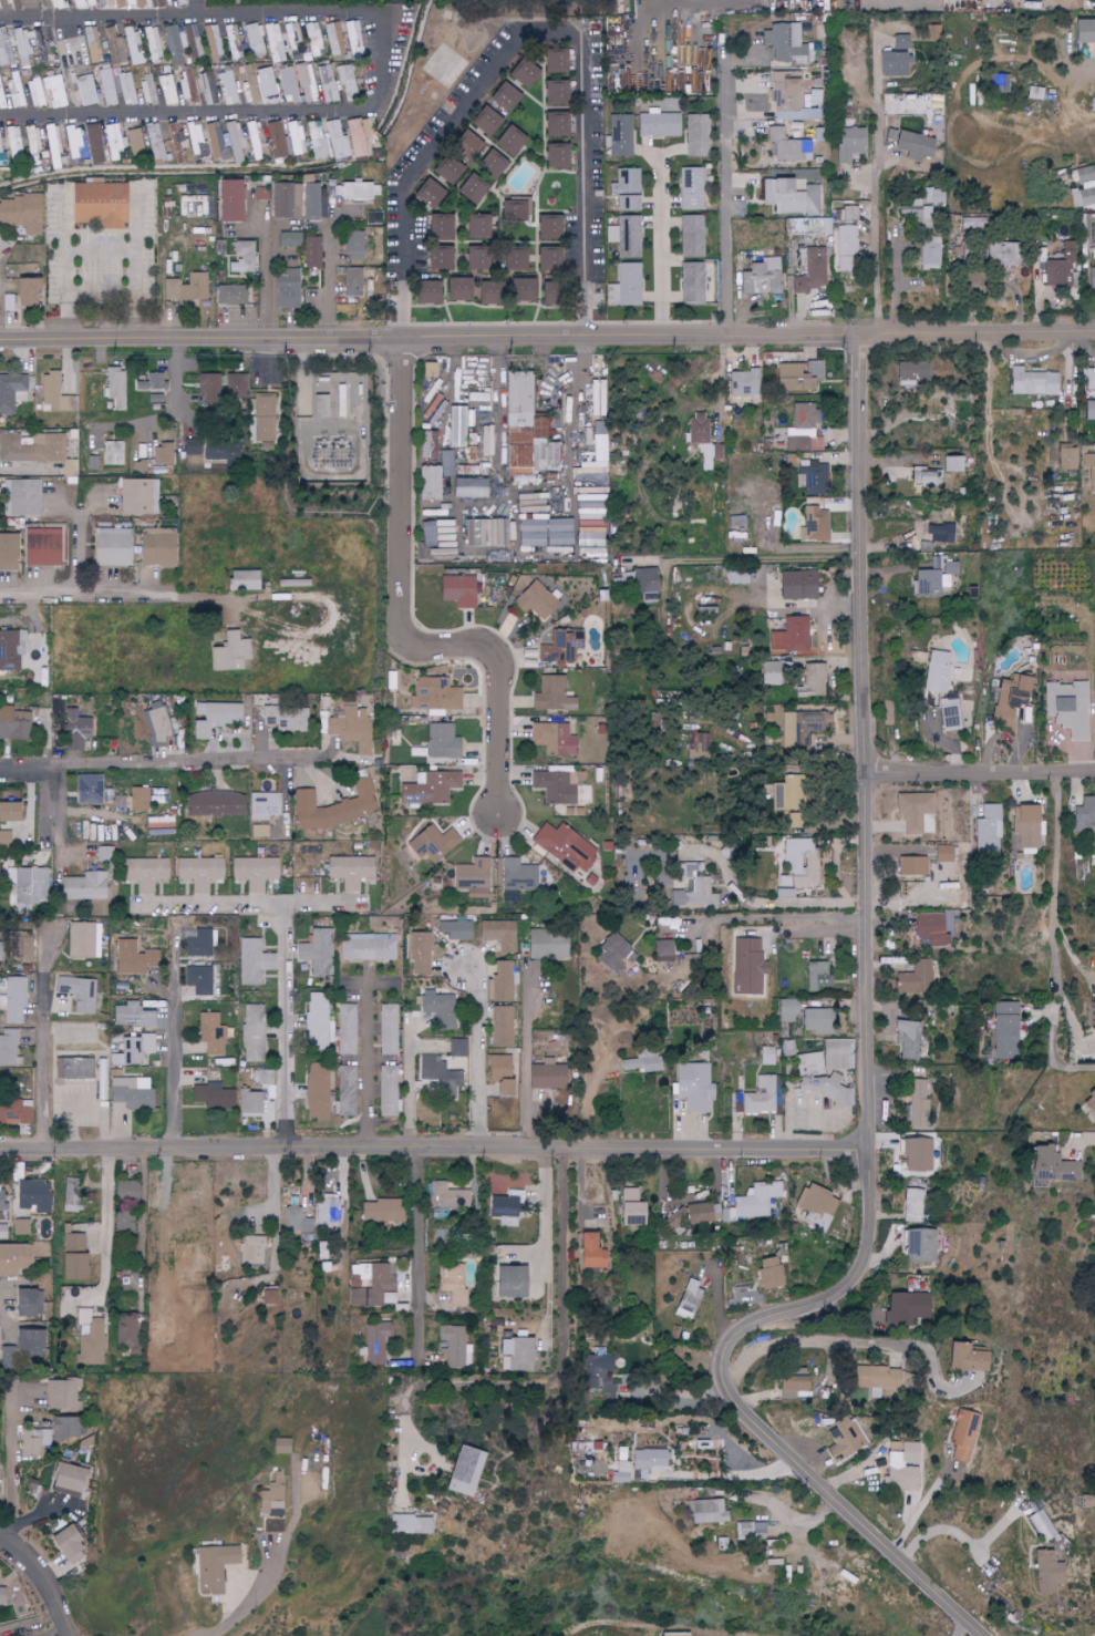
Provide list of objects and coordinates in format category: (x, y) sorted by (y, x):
building: (6, 0)
building: (178, 2)
building: (54, 3)
building: (78, 3)
building: (94, 3)
building: (116, 3)
building: (136, 3)
building: (155, 3)
building: (944, 3)
road: (196, 9)
road: (529, 29)
building: (1083, 31)
building: (188, 37)
building: (312, 38)
building: (255, 39)
building: (293, 39)
building: (900, 39)
building: (234, 41)
building: (353, 41)
building: (214, 42)
building: (334, 42)
building: (153, 43)
building: (273, 43)
building: (92, 44)
building: (786, 44)
building: (39, 45)
building: (115, 45)
building: (173, 45)
building: (134, 47)
building: (24, 48)
building: (4, 49)
building: (551, 62)
road: (372, 63)
road: (876, 64)
building: (892, 65)
road: (1085, 70)
building: (521, 74)
building: (186, 82)
building: (249, 82)
building: (304, 82)
building: (345, 82)
building: (618, 82)
building: (287, 83)
building: (267, 84)
building: (326, 84)
building: (1000, 84)
building: (106, 88)
building: (228, 88)
building: (126, 89)
building: (147, 89)
building: (14, 90)
building: (84, 90)
building: (167, 90)
building: (54, 91)
building: (35, 93)
building: (552, 93)
building: (1034, 93)
building: (0, 97)
building: (502, 97)
building: (789, 97)
building: (483, 121)
building: (554, 124)
building: (659, 125)
building: (620, 136)
building: (698, 136)
building: (355, 137)
building: (194, 138)
building: (295, 138)
building: (52, 140)
building: (255, 140)
building: (216, 141)
building: (234, 141)
building: (277, 141)
building: (335, 141)
building: (72, 142)
building: (114, 142)
building: (154, 142)
building: (176, 142)
building: (316, 142)
building: (507, 142)
building: (13, 143)
building: (32, 144)
building: (849, 144)
building: (910, 144)
building: (94, 145)
building: (135, 145)
building: (786, 146)
building: (466, 148)
building: (0, 153)
building: (554, 156)
building: (490, 165)
building: (445, 169)
building: (1086, 186)
building: (692, 188)
building: (468, 191)
building: (624, 191)
road: (724, 191)
building: (360, 192)
building: (425, 193)
building: (260, 194)
building: (930, 197)
building: (789, 198)
building: (285, 199)
building: (228, 202)
building: (314, 203)
building: (96, 204)
building: (192, 206)
building: (513, 212)
building: (911, 212)
building: (21, 213)
building: (849, 214)
road: (877, 214)
building: (373, 218)
building: (972, 224)
building: (437, 226)
building: (475, 227)
building: (826, 227)
building: (546, 228)
road: (134, 235)
building: (1092, 235)
building: (626, 236)
building: (692, 237)
building: (290, 240)
road: (663, 245)
building: (353, 246)
building: (219, 248)
building: (846, 248)
road: (101, 251)
building: (311, 253)
building: (1003, 254)
building: (928, 256)
building: (242, 258)
building: (437, 258)
building: (474, 258)
building: (513, 258)
building: (546, 259)
building: (1061, 268)
building: (812, 272)
building: (762, 277)
building: (1092, 278)
road: (265, 280)
building: (353, 282)
road: (897, 284)
road: (328, 285)
building: (692, 285)
building: (624, 287)
road: (75, 289)
building: (287, 290)
building: (456, 290)
building: (183, 291)
building: (23, 292)
building: (504, 292)
building: (425, 294)
building: (230, 295)
building: (7, 303)
road: (547, 338)
road: (1084, 346)
road: (586, 362)
building: (430, 370)
building: (911, 371)
building: (796, 375)
building: (1089, 379)
building: (151, 381)
building: (1032, 382)
building: (742, 383)
building: (114, 388)
building: (11, 392)
building: (53, 393)
building: (302, 394)
building: (597, 398)
building: (339, 401)
building: (321, 405)
building: (1089, 410)
road: (172, 415)
building: (265, 418)
building: (457, 426)
building: (804, 429)
power substation: (334, 431)
building: (703, 439)
building: (486, 441)
building: (588, 442)
building: (428, 445)
building: (38, 451)
building: (221, 451)
building: (112, 452)
building: (326, 452)
building: (161, 454)
building: (1067, 457)
building: (1088, 460)
building: (452, 461)
building: (596, 461)
building: (93, 462)
building: (951, 463)
building: (924, 476)
building: (810, 477)
building: (1089, 477)
building: (428, 483)
building: (469, 487)
building: (761, 494)
building: (21, 496)
building: (533, 503)
building: (591, 516)
building: (735, 517)
building: (814, 524)
building: (489, 532)
building: (546, 532)
building: (937, 532)
building: (443, 538)
building: (111, 546)
building: (41, 547)
building: (156, 547)
building: (558, 549)
building: (8, 552)
building: (496, 556)
road: (760, 563)
building: (735, 576)
building: (241, 579)
building: (641, 583)
building: (795, 585)
building: (457, 590)
road: (94, 594)
building: (535, 600)
road: (403, 624)
building: (791, 636)
building: (560, 646)
building: (11, 649)
building: (228, 651)
building: (264, 656)
building: (936, 671)
building: (768, 672)
building: (390, 680)
building: (813, 682)
building: (435, 693)
building: (551, 694)
building: (1008, 699)
building: (1067, 707)
building: (949, 714)
building: (214, 717)
building: (286, 718)
building: (13, 723)
building: (157, 726)
building: (802, 728)
building: (74, 730)
building: (350, 730)
building: (907, 730)
building: (552, 739)
building: (442, 741)
building: (699, 747)
road: (154, 764)
road: (980, 773)
building: (557, 785)
building: (428, 788)
building: (87, 789)
building: (786, 793)
building: (138, 799)
building: (117, 801)
building: (215, 804)
building: (262, 805)
building: (332, 806)
building: (8, 811)
building: (915, 812)
road: (58, 814)
building: (1083, 814)
building: (1027, 830)
building: (258, 831)
building: (988, 831)
building: (83, 832)
building: (4, 840)
building: (427, 844)
building: (565, 847)
building: (942, 854)
building: (803, 861)
building: (912, 866)
building: (350, 871)
building: (199, 872)
building: (254, 872)
building: (146, 873)
building: (472, 877)
building: (515, 878)
road: (1054, 885)
building: (27, 886)
building: (83, 886)
building: (693, 887)
road: (248, 902)
road: (794, 903)
building: (665, 922)
building: (928, 928)
building: (455, 929)
building: (498, 934)
building: (84, 939)
building: (198, 943)
building: (546, 944)
building: (368, 947)
building: (1, 948)
building: (25, 950)
building: (664, 950)
building: (318, 951)
building: (419, 953)
building: (614, 954)
building: (127, 958)
building: (251, 961)
building: (747, 966)
building: (816, 975)
building: (917, 978)
building: (198, 979)
building: (500, 981)
building: (79, 994)
building: (13, 998)
building: (440, 1009)
building: (786, 1010)
building: (132, 1016)
building: (817, 1020)
building: (318, 1021)
road: (285, 1023)
building: (500, 1027)
building: (347, 1029)
road: (44, 1030)
building: (388, 1030)
building: (1006, 1030)
building: (252, 1032)
building: (210, 1033)
building: (1093, 1035)
building: (907, 1040)
building: (458, 1047)
building: (8, 1048)
road: (174, 1048)
building: (133, 1050)
road: (1050, 1051)
building: (766, 1056)
road: (526, 1057)
road: (368, 1058)
building: (826, 1058)
road: (483, 1059)
building: (641, 1061)
building: (73, 1068)
building: (438, 1072)
building: (498, 1073)
building: (262, 1077)
building: (546, 1077)
road: (411, 1085)
building: (694, 1087)
building: (826, 1089)
building: (347, 1090)
building: (388, 1091)
building: (132, 1092)
building: (317, 1092)
road: (870, 1093)
building: (213, 1097)
building: (760, 1097)
building: (249, 1102)
building: (1088, 1102)
building: (919, 1104)
road: (114, 1107)
building: (16, 1112)
road: (83, 1115)
road: (1085, 1138)
road: (435, 1150)
building: (916, 1154)
building: (1051, 1165)
building: (126, 1190)
building: (71, 1194)
building: (32, 1196)
building: (448, 1196)
building: (1, 1198)
building: (757, 1201)
building: (913, 1205)
building: (816, 1206)
building: (630, 1207)
building: (506, 1208)
building: (328, 1210)
road: (277, 1211)
building: (381, 1211)
building: (707, 1213)
building: (297, 1222)
building: (123, 1224)
building: (2, 1232)
road: (106, 1233)
building: (919, 1246)
road: (419, 1248)
building: (255, 1251)
building: (589, 1253)
building: (27, 1255)
building: (71, 1257)
building: (10, 1258)
building: (767, 1273)
building: (508, 1282)
building: (374, 1285)
building: (453, 1285)
building: (267, 1296)
building: (688, 1300)
building: (22, 1304)
building: (38, 1308)
building: (907, 1308)
building: (157, 1333)
building: (125, 1334)
road: (565, 1337)
building: (86, 1341)
building: (376, 1342)
road: (856, 1342)
building: (27, 1344)
building: (456, 1348)
building: (516, 1355)
building: (601, 1375)
building: (877, 1379)
building: (789, 1386)
building: (59, 1395)
building: (48, 1436)
building: (844, 1437)
building: (962, 1437)
building: (279, 1447)
building: (901, 1453)
building: (647, 1463)
road: (12, 1467)
building: (462, 1471)
building: (621, 1472)
road: (731, 1474)
building: (905, 1479)
building: (65, 1480)
building: (271, 1498)
building: (1084, 1502)
building: (706, 1511)
building: (410, 1524)
building: (1042, 1525)
building: (751, 1529)
building: (65, 1546)
building: (213, 1567)
building: (1045, 1572)
road: (44, 1578)
building: (1, 1595)
road: (247, 1602)
road: (975, 1633)
building: (674, 1634)

